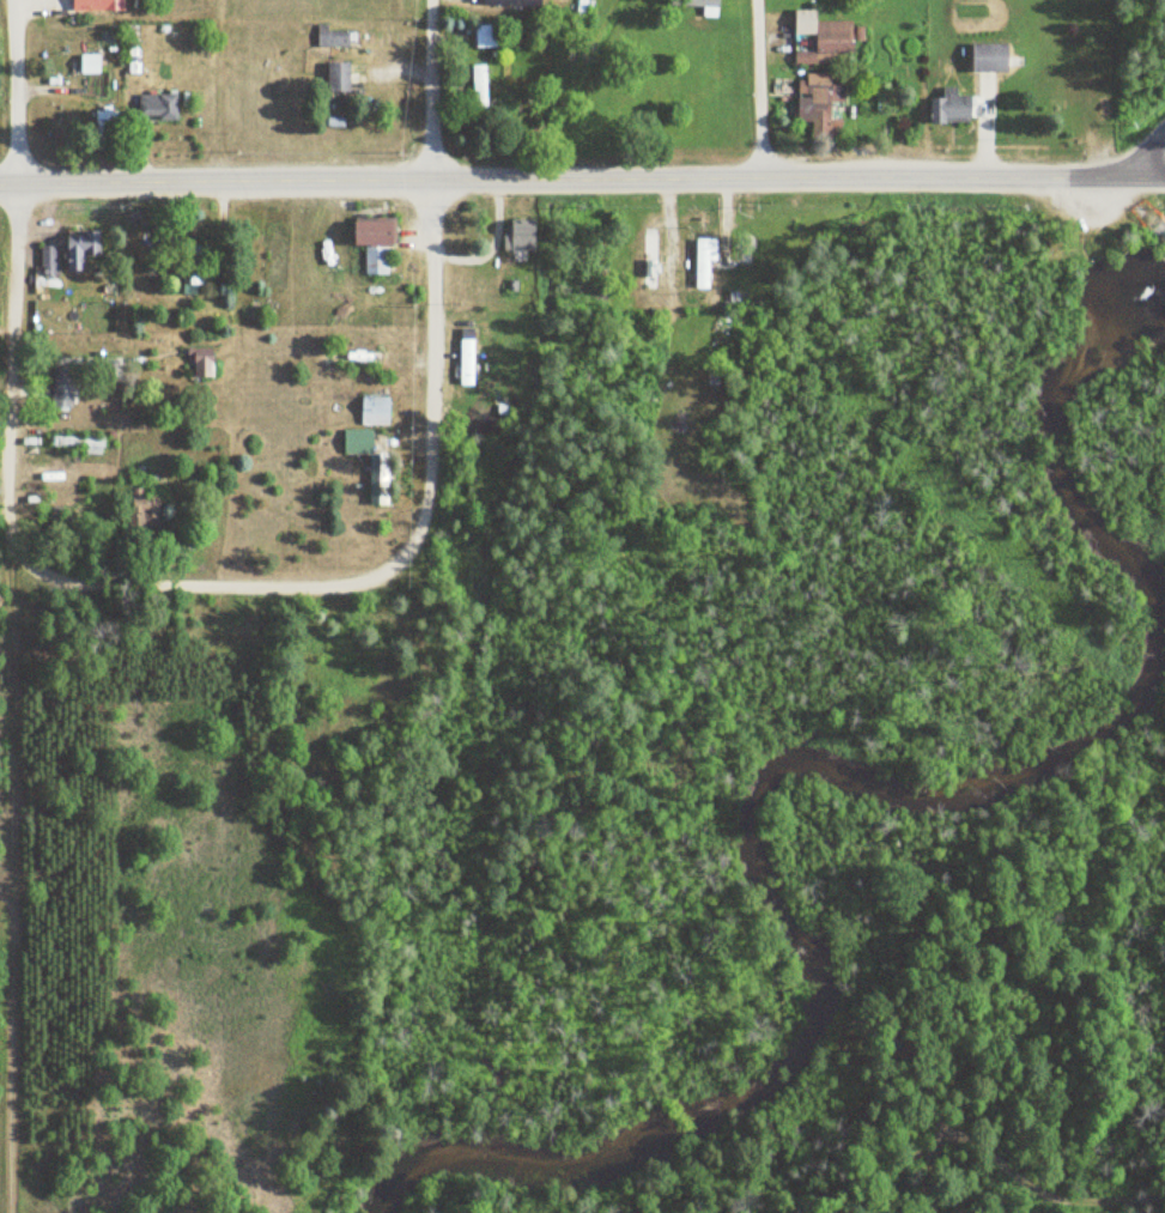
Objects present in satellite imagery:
building: (515, 2)
building: (101, 5)
building: (708, 5)
building: (826, 35)
building: (333, 36)
building: (487, 36)
building: (993, 57)
building: (91, 63)
building: (341, 77)
road: (759, 87)
building: (481, 89)
building: (988, 89)
road: (220, 91)
road: (431, 91)
building: (819, 96)
building: (164, 105)
building: (952, 107)
building: (108, 128)
road: (1154, 156)
road: (582, 180)
road: (1118, 204)
road: (1160, 230)
building: (523, 236)
building: (378, 244)
building: (84, 248)
building: (50, 259)
building: (651, 260)
building: (706, 262)
building: (192, 269)
park: (1104, 298)
building: (467, 357)
building: (206, 360)
road: (430, 380)
building: (65, 387)
building: (377, 413)
building: (79, 442)
building: (360, 442)
building: (381, 484)
building: (151, 507)
road: (17, 513)
road: (198, 583)
river: (823, 763)

